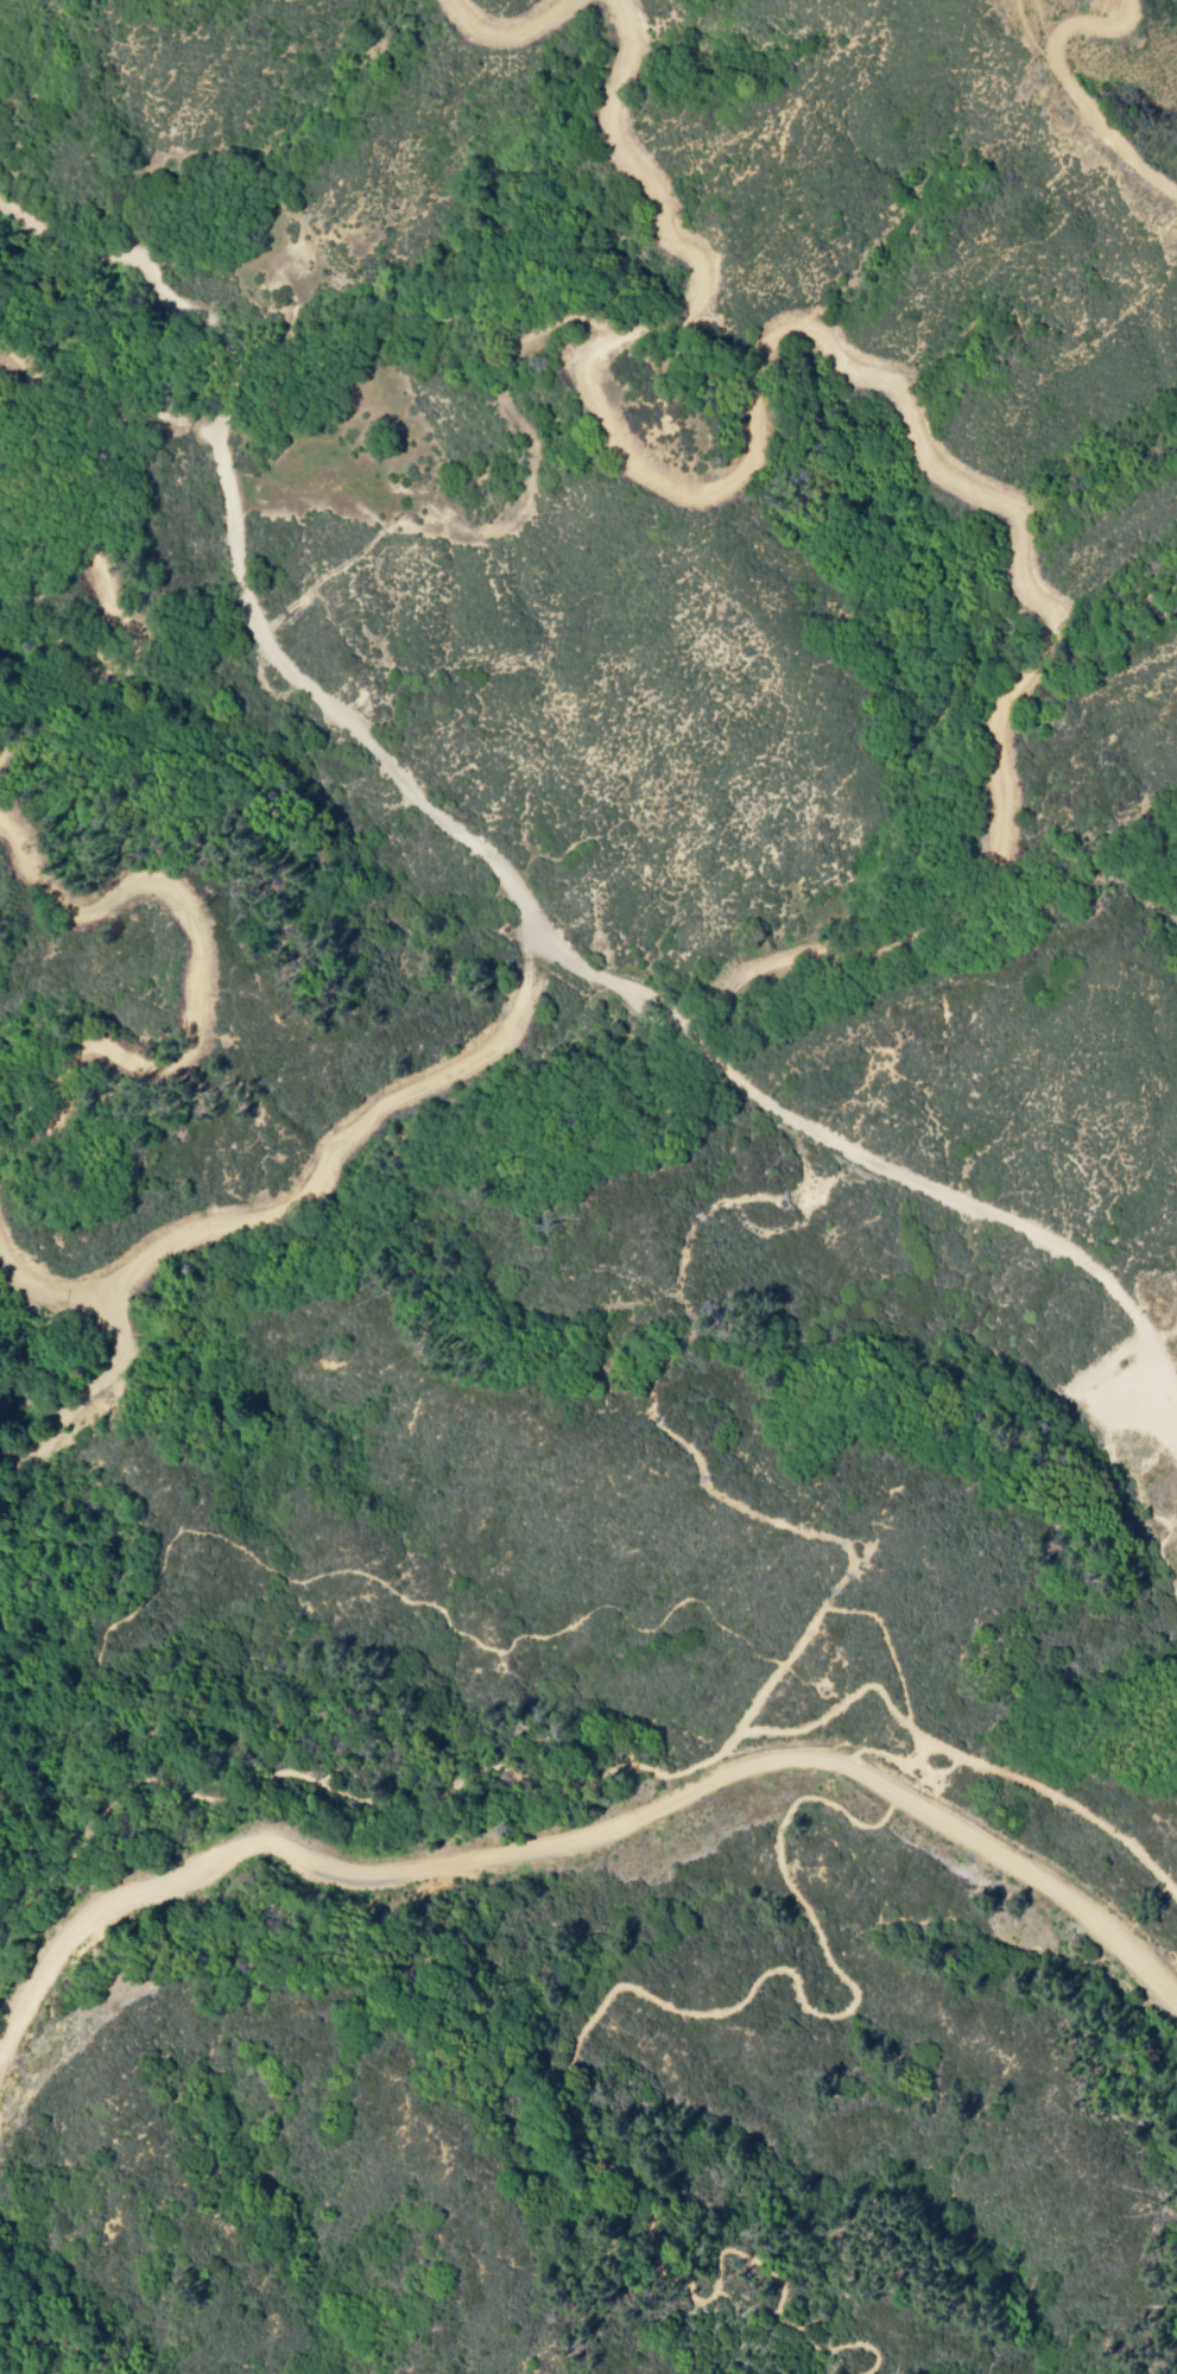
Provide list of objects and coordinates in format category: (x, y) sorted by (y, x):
road: (492, 861)
road: (415, 1603)
road: (824, 1612)
road: (586, 1748)
road: (890, 1764)
road: (588, 1842)
road: (572, 2052)

